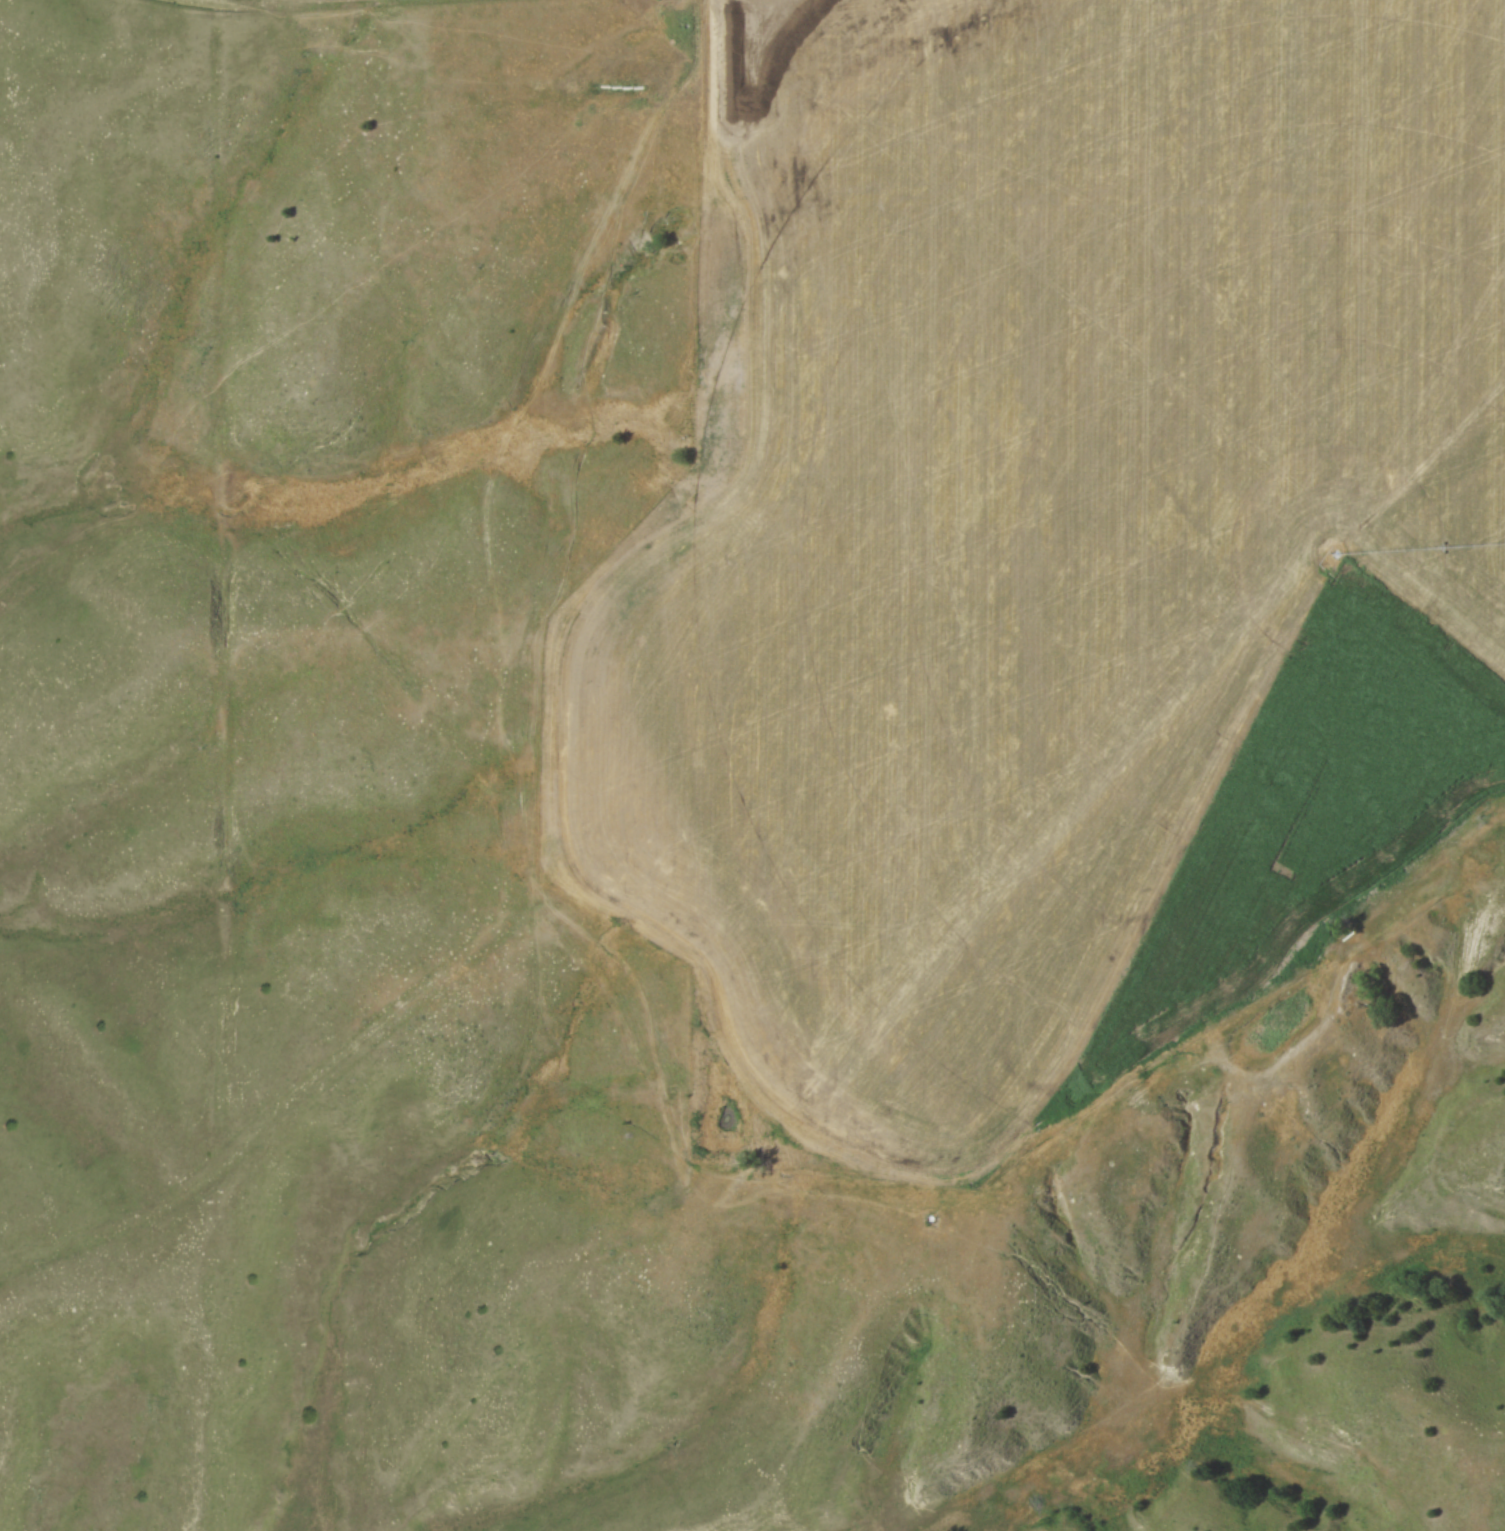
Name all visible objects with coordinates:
crop: (1067, 553)

